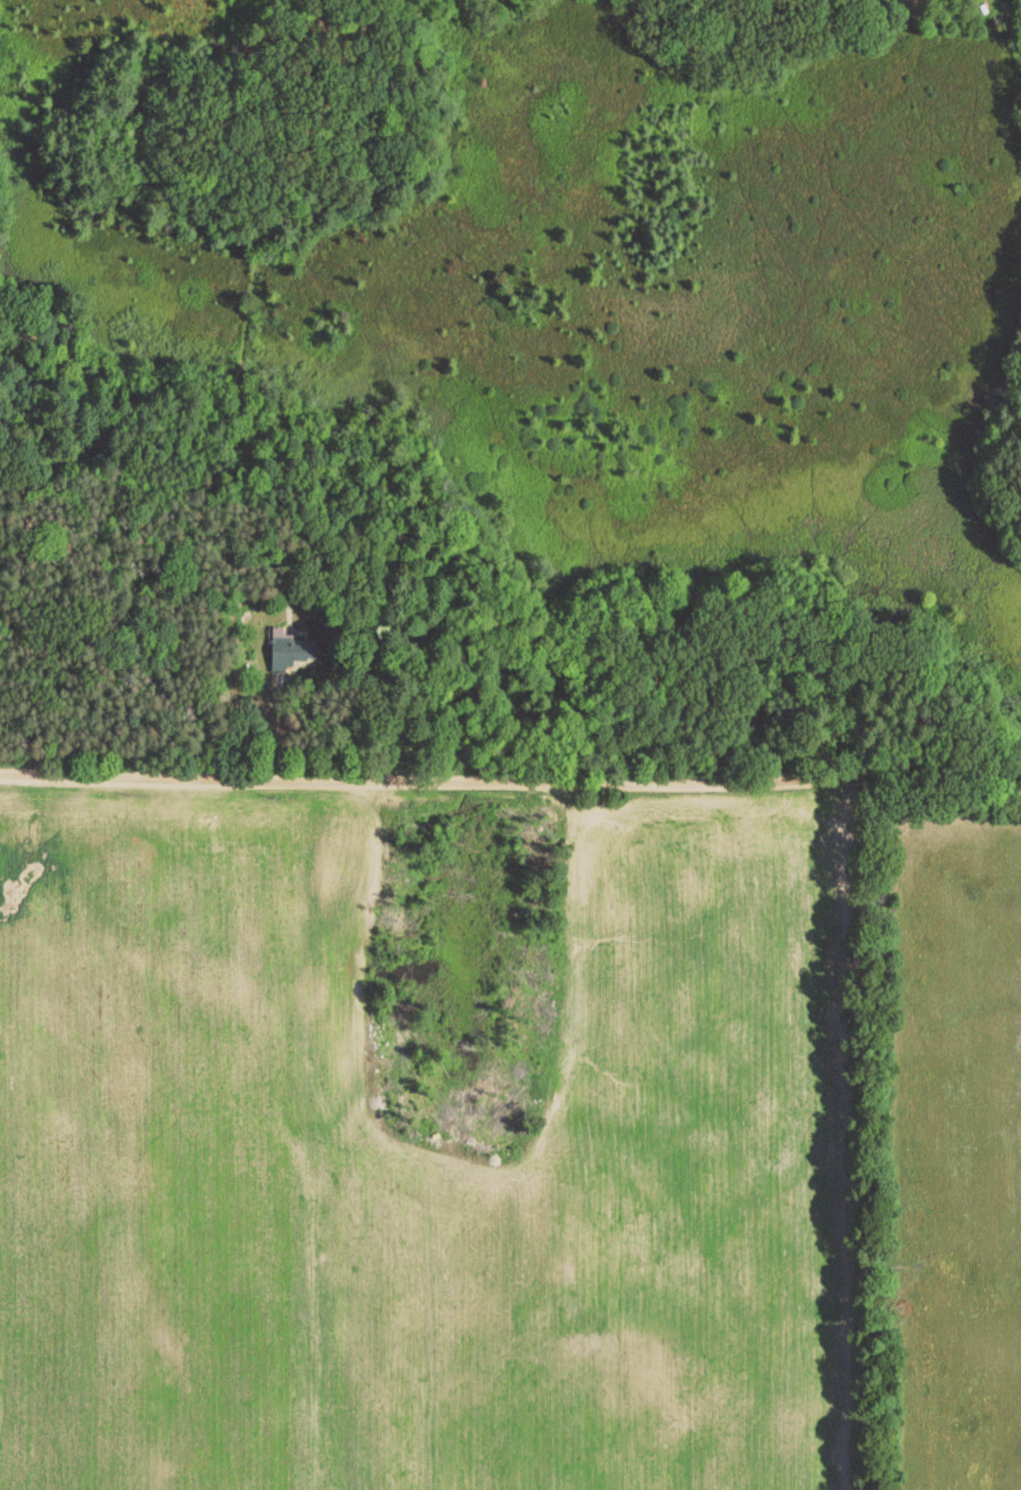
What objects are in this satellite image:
building: (293, 652)
road: (510, 756)
crop: (955, 1147)
crop: (417, 1162)

